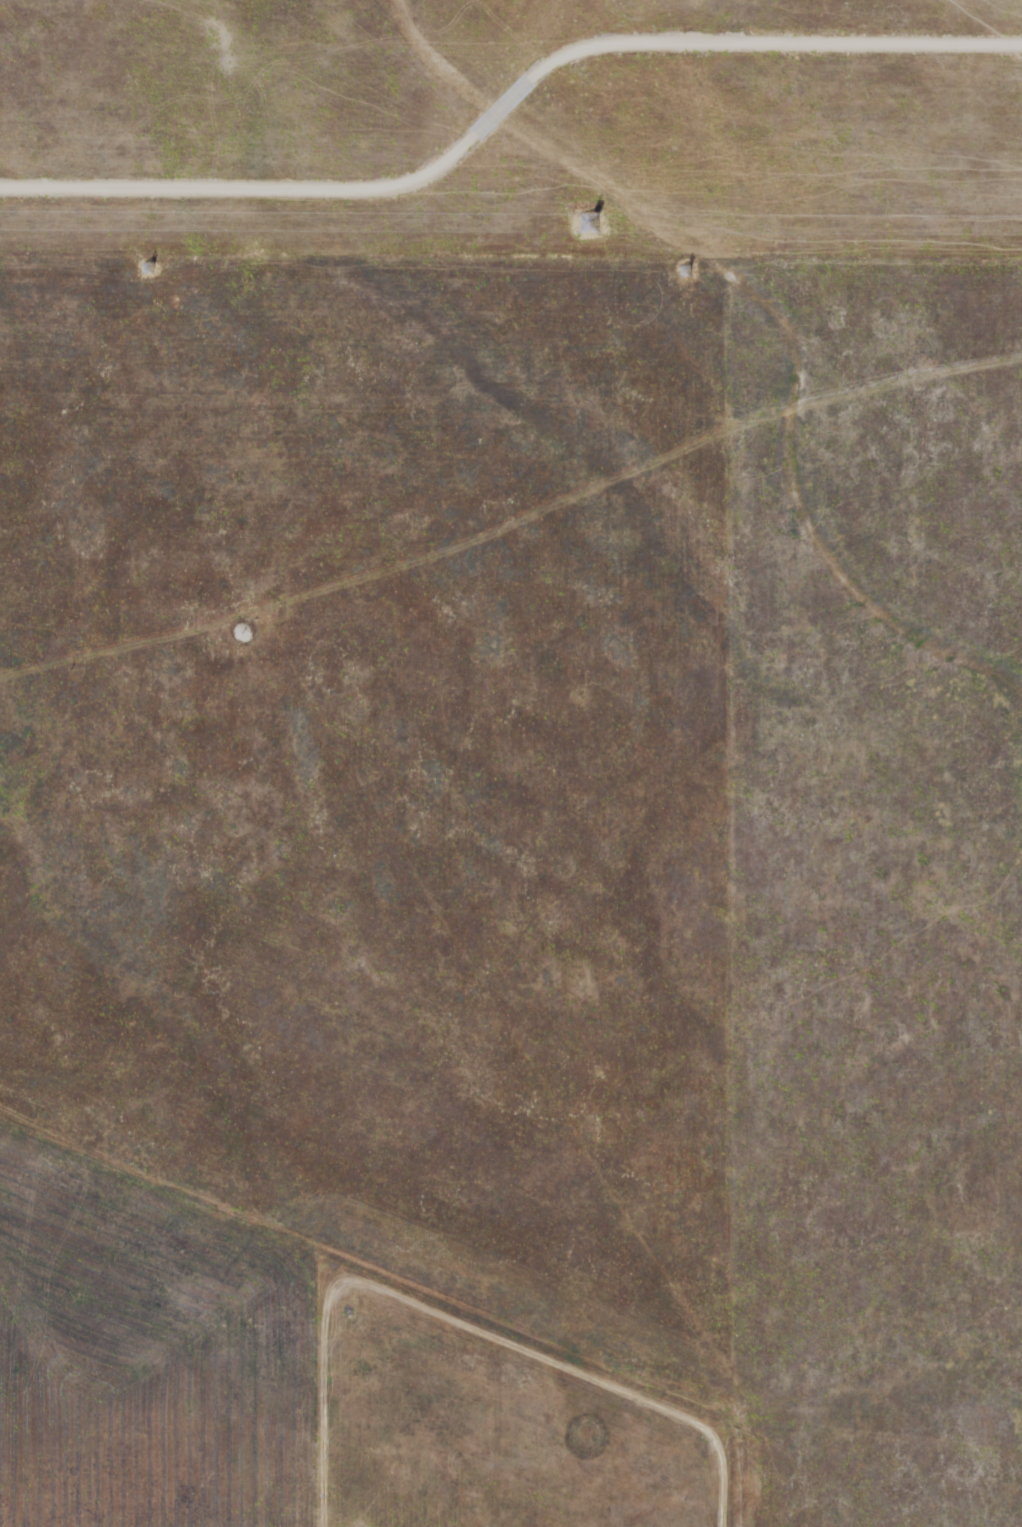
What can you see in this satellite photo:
solar farm: (513, 127)
power tower: (581, 223)
power tower: (146, 269)
power tower: (689, 275)

